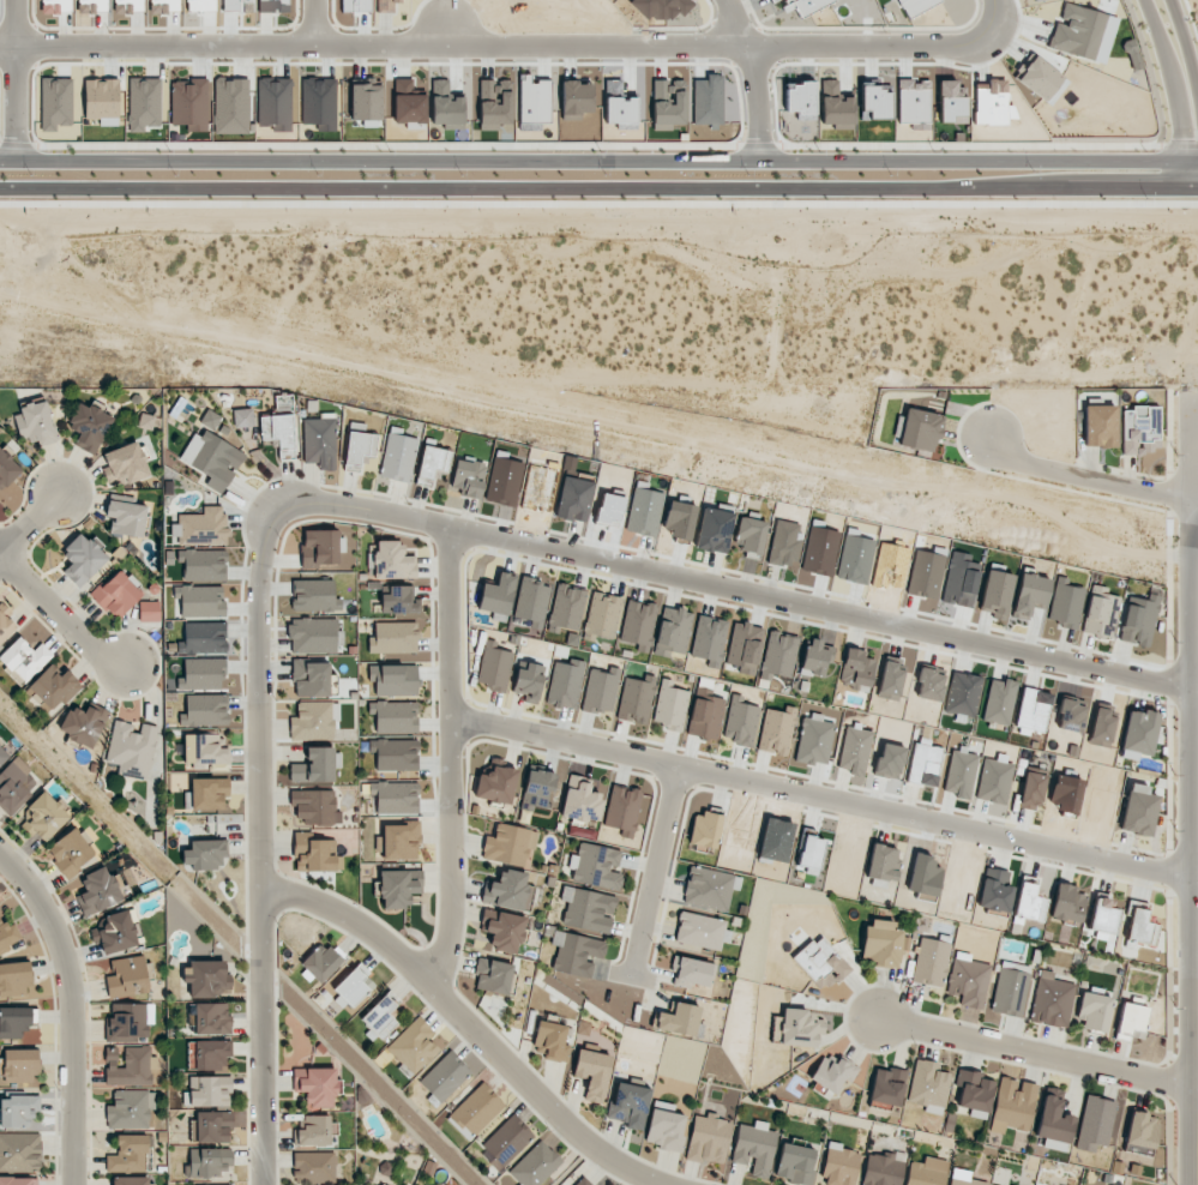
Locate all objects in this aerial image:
building: (203, 5)
building: (386, 5)
building: (56, 6)
building: (91, 6)
building: (130, 6)
building: (272, 6)
building: (915, 6)
road: (314, 25)
building: (1083, 32)
road: (447, 37)
road: (1184, 47)
road: (514, 50)
road: (751, 79)
building: (1041, 79)
road: (1172, 79)
road: (14, 82)
building: (365, 100)
building: (576, 100)
building: (708, 100)
building: (800, 100)
building: (102, 101)
building: (875, 101)
building: (913, 101)
building: (951, 102)
building: (55, 103)
building: (144, 103)
building: (189, 103)
building: (273, 103)
building: (619, 103)
building: (668, 103)
building: (991, 103)
building: (835, 107)
road: (598, 164)
road: (1190, 179)
road: (598, 190)
building: (242, 417)
building: (210, 420)
building: (146, 421)
building: (36, 423)
building: (89, 426)
building: (1100, 426)
building: (919, 429)
building: (1140, 429)
building: (278, 433)
building: (319, 441)
building: (357, 449)
building: (397, 457)
building: (212, 459)
building: (126, 463)
building: (432, 463)
building: (6, 467)
building: (468, 476)
road: (1086, 480)
building: (573, 499)
building: (644, 512)
building: (126, 518)
road: (31, 522)
building: (201, 527)
building: (714, 530)
building: (749, 535)
building: (321, 547)
building: (83, 559)
building: (392, 561)
building: (203, 564)
building: (959, 579)
road: (735, 588)
building: (995, 592)
building: (116, 594)
building: (1029, 595)
building: (314, 596)
building: (496, 596)
building: (399, 600)
building: (200, 601)
building: (531, 601)
building: (1065, 603)
building: (566, 607)
building: (149, 612)
building: (1100, 612)
building: (602, 615)
road: (59, 616)
building: (1138, 619)
building: (637, 624)
building: (5, 626)
building: (672, 631)
building: (313, 634)
building: (203, 638)
building: (393, 638)
building: (708, 638)
building: (744, 646)
building: (777, 655)
building: (25, 658)
building: (815, 658)
building: (494, 666)
building: (856, 669)
building: (201, 674)
building: (312, 678)
building: (393, 679)
building: (890, 679)
building: (529, 682)
building: (565, 684)
building: (929, 684)
building: (52, 687)
building: (601, 691)
building: (962, 694)
building: (636, 698)
building: (999, 700)
building: (670, 705)
building: (204, 710)
building: (1033, 710)
building: (1070, 715)
building: (393, 716)
building: (705, 716)
building: (313, 721)
building: (741, 722)
building: (84, 724)
building: (1101, 726)
building: (775, 732)
building: (1138, 734)
building: (814, 738)
building: (132, 748)
building: (854, 750)
building: (204, 752)
building: (395, 754)
building: (2, 756)
road: (447, 760)
building: (889, 760)
building: (923, 763)
building: (315, 765)
building: (961, 772)
building: (994, 780)
building: (14, 784)
building: (495, 786)
building: (537, 789)
road: (1194, 789)
building: (1031, 790)
building: (209, 793)
building: (395, 796)
road: (823, 798)
building: (580, 800)
building: (314, 806)
building: (622, 808)
building: (1138, 810)
building: (44, 817)
building: (705, 830)
building: (401, 841)
road: (259, 843)
building: (510, 844)
building: (71, 852)
building: (204, 854)
building: (314, 854)
building: (809, 854)
building: (881, 862)
building: (596, 866)
road: (652, 872)
building: (398, 886)
building: (709, 888)
building: (506, 890)
building: (994, 891)
building: (98, 892)
building: (1029, 901)
building: (1067, 903)
building: (588, 909)
building: (1102, 915)
building: (1140, 927)
building: (700, 931)
building: (115, 932)
building: (504, 932)
building: (8, 936)
building: (881, 944)
building: (576, 954)
building: (931, 962)
building: (319, 963)
building: (820, 963)
building: (691, 973)
building: (492, 975)
building: (127, 976)
building: (207, 978)
building: (14, 979)
building: (968, 980)
building: (353, 986)
building: (1010, 988)
building: (1052, 1000)
road: (67, 1007)
building: (1094, 1012)
building: (379, 1017)
building: (211, 1018)
building: (679, 1019)
building: (128, 1022)
building: (1131, 1022)
road: (468, 1023)
building: (800, 1028)
building: (552, 1039)
building: (414, 1046)
road: (1033, 1052)
building: (209, 1054)
building: (20, 1064)
building: (128, 1066)
building: (832, 1072)
building: (592, 1073)
building: (444, 1077)
building: (315, 1085)
building: (886, 1085)
building: (928, 1087)
building: (207, 1090)
building: (974, 1094)
building: (630, 1105)
building: (1012, 1106)
building: (130, 1109)
building: (17, 1111)
building: (475, 1111)
building: (1053, 1121)
building: (1095, 1123)
building: (211, 1126)
building: (664, 1126)
building: (314, 1131)
building: (1140, 1132)
building: (709, 1138)
building: (507, 1141)
building: (754, 1147)
building: (20, 1151)
building: (128, 1154)
building: (207, 1162)
building: (795, 1163)
building: (535, 1165)
building: (839, 1166)
building: (313, 1167)
building: (926, 1172)
building: (963, 1178)
building: (132, 1180)
building: (582, 1181)
building: (368, 1184)

